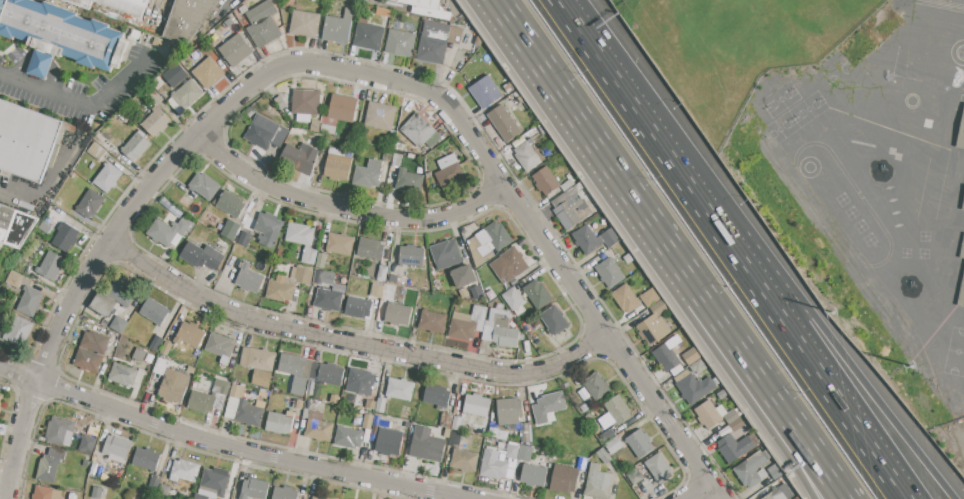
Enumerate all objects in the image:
building: (82, 3)
building: (422, 3)
building: (127, 6)
building: (383, 12)
building: (188, 19)
building: (263, 23)
building: (305, 24)
building: (338, 27)
building: (62, 32)
building: (368, 34)
building: (400, 43)
building: (236, 50)
building: (431, 50)
building: (38, 64)
road: (14, 68)
building: (208, 72)
building: (176, 73)
road: (54, 82)
building: (485, 92)
building: (188, 94)
building: (281, 102)
road: (81, 104)
building: (305, 104)
building: (342, 107)
building: (380, 115)
building: (157, 121)
building: (504, 123)
building: (315, 125)
building: (328, 129)
building: (266, 132)
building: (297, 132)
building: (420, 132)
road: (657, 137)
building: (28, 139)
building: (961, 139)
road: (186, 141)
building: (136, 147)
building: (97, 151)
building: (527, 155)
building: (302, 157)
building: (396, 160)
building: (448, 161)
building: (338, 166)
building: (369, 173)
building: (450, 175)
building: (108, 178)
building: (409, 180)
building: (546, 181)
road: (5, 182)
road: (622, 184)
building: (205, 185)
building: (567, 185)
building: (91, 203)
building: (230, 203)
road: (345, 208)
building: (963, 209)
building: (574, 211)
building: (15, 225)
building: (231, 229)
building: (269, 229)
building: (168, 230)
building: (66, 237)
building: (611, 237)
building: (245, 238)
building: (586, 239)
building: (303, 241)
building: (488, 242)
building: (340, 243)
building: (370, 248)
building: (445, 251)
building: (412, 255)
building: (962, 255)
building: (203, 256)
building: (322, 260)
building: (515, 261)
building: (50, 266)
building: (610, 272)
building: (382, 273)
building: (319, 276)
building: (249, 277)
building: (14, 279)
building: (464, 279)
building: (425, 281)
building: (288, 284)
building: (377, 290)
building: (121, 292)
building: (390, 293)
building: (538, 294)
road: (583, 297)
building: (650, 297)
building: (513, 298)
building: (625, 298)
building: (962, 298)
building: (329, 299)
building: (30, 301)
building: (446, 302)
building: (103, 304)
building: (359, 307)
building: (659, 307)
power tower: (832, 308)
building: (155, 311)
building: (398, 314)
building: (478, 316)
building: (555, 320)
building: (433, 322)
building: (119, 324)
building: (462, 326)
building: (500, 327)
building: (653, 328)
building: (19, 331)
building: (190, 334)
road: (352, 341)
building: (95, 342)
building: (157, 343)
building: (221, 347)
building: (166, 348)
building: (140, 353)
building: (670, 353)
building: (175, 355)
building: (692, 355)
building: (259, 358)
building: (88, 360)
building: (161, 366)
building: (698, 366)
power tower: (914, 366)
building: (191, 369)
building: (677, 369)
building: (296, 371)
building: (315, 371)
building: (124, 374)
building: (330, 374)
road: (20, 375)
building: (239, 375)
building: (681, 375)
building: (140, 377)
building: (262, 378)
road: (861, 379)
building: (360, 381)
building: (174, 385)
building: (221, 386)
road: (832, 386)
building: (596, 387)
building: (400, 388)
building: (695, 388)
building: (237, 391)
building: (722, 394)
building: (437, 396)
building: (1, 398)
building: (220, 401)
building: (202, 402)
building: (289, 402)
building: (552, 402)
building: (371, 403)
building: (297, 404)
building: (381, 405)
building: (477, 405)
building: (232, 408)
building: (1, 409)
building: (618, 409)
building: (510, 411)
building: (249, 413)
building: (307, 413)
building: (710, 414)
building: (539, 415)
building: (731, 416)
building: (604, 419)
building: (446, 420)
building: (368, 421)
building: (280, 422)
building: (459, 424)
building: (319, 427)
building: (60, 431)
road: (798, 433)
building: (366, 436)
road: (772, 437)
building: (349, 438)
building: (455, 439)
road: (22, 440)
building: (389, 442)
building: (87, 443)
building: (639, 443)
building: (614, 446)
building: (428, 447)
building: (734, 447)
building: (117, 448)
building: (512, 451)
road: (254, 452)
building: (57, 453)
building: (525, 453)
building: (147, 458)
building: (464, 460)
building: (493, 465)
building: (658, 467)
building: (47, 468)
building: (185, 470)
building: (751, 470)
building: (776, 471)
building: (534, 474)
building: (634, 475)
building: (216, 480)
building: (155, 481)
building: (564, 483)
building: (598, 484)
building: (255, 489)
building: (44, 492)
building: (96, 492)
building: (164, 492)
road: (703, 492)
building: (285, 493)
building: (780, 493)
building: (323, 496)
building: (344, 498)

